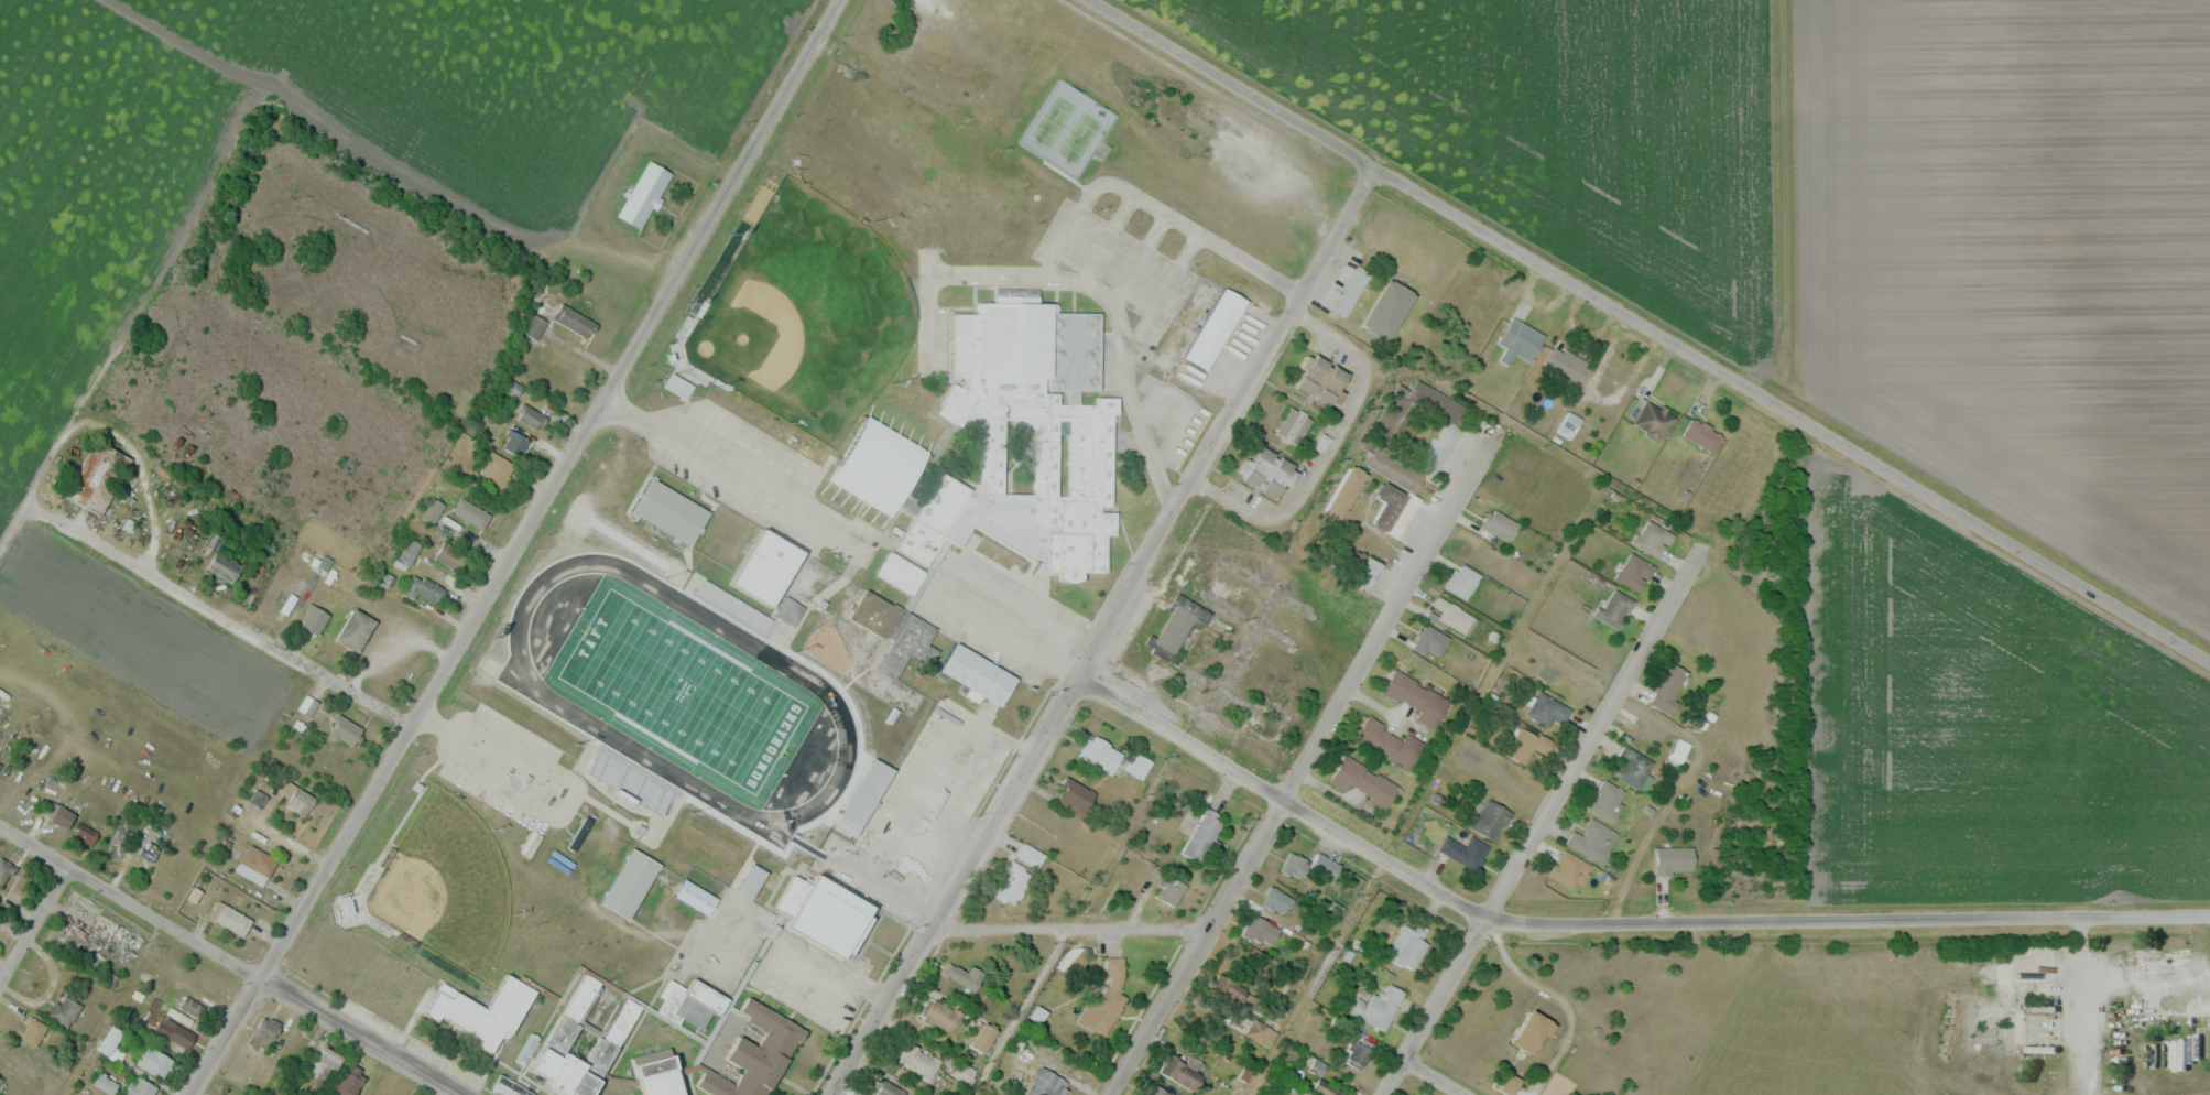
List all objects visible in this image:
park: (1067, 130)
building: (641, 198)
building: (1351, 291)
building: (1389, 308)
park: (806, 318)
building: (574, 319)
building: (534, 325)
road: (1648, 332)
building: (1213, 333)
building: (1520, 340)
building: (1564, 364)
building: (1322, 380)
building: (676, 390)
building: (530, 416)
building: (1039, 420)
building: (1653, 420)
road: (96, 423)
building: (1296, 426)
building: (1702, 435)
building: (1444, 438)
building: (515, 443)
building: (496, 469)
building: (1269, 471)
building: (97, 479)
building: (901, 487)
building: (1344, 491)
building: (1393, 509)
building: (470, 512)
building: (668, 516)
building: (1499, 524)
road: (841, 536)
building: (1652, 538)
road: (518, 547)
building: (409, 551)
building: (219, 564)
building: (763, 572)
building: (1634, 572)
building: (901, 573)
building: (1369, 573)
building: (1461, 581)
building: (1614, 608)
road: (220, 611)
building: (788, 611)
building: (1451, 616)
building: (314, 620)
building: (1178, 626)
building: (356, 630)
road: (1103, 630)
building: (1430, 640)
building: (977, 679)
building: (1669, 689)
park: (683, 692)
building: (1416, 697)
building: (917, 703)
track: (557, 705)
building: (1547, 709)
building: (345, 730)
building: (1387, 742)
building: (1527, 745)
building: (1099, 752)
building: (0, 763)
building: (1136, 763)
road: (1303, 767)
building: (1633, 769)
building: (1363, 781)
building: (1073, 795)
building: (1607, 800)
building: (298, 801)
building: (862, 804)
building: (58, 814)
building: (1490, 818)
road: (1542, 828)
building: (1071, 832)
building: (84, 834)
building: (1204, 834)
building: (1592, 841)
building: (120, 842)
building: (148, 850)
building: (1465, 850)
building: (715, 854)
building: (1674, 859)
building: (1294, 863)
building: (254, 865)
building: (1325, 866)
building: (1569, 869)
building: (4, 870)
building: (1020, 874)
building: (750, 886)
building: (628, 888)
park: (446, 889)
building: (1171, 889)
building: (1276, 899)
building: (694, 901)
road: (1610, 920)
building: (827, 921)
building: (232, 924)
road: (33, 925)
road: (1074, 926)
building: (1260, 930)
building: (122, 937)
building: (1408, 943)
road: (231, 960)
building: (601, 962)
building: (556, 975)
building: (2129, 978)
building: (1231, 993)
building: (1104, 998)
building: (190, 1005)
building: (1378, 1006)
building: (483, 1009)
building: (63, 1010)
building: (940, 1013)
building: (270, 1026)
building: (172, 1030)
building: (1532, 1030)
building: (32, 1031)
building: (585, 1036)
building: (983, 1036)
building: (110, 1039)
building: (1359, 1052)
building: (755, 1055)
building: (918, 1059)
building: (154, 1061)
building: (317, 1070)
building: (964, 1071)
building: (1180, 1071)
building: (1, 1078)
road: (1435, 1078)
building: (348, 1080)
building: (104, 1082)
building: (656, 1082)
building: (1510, 1082)
building: (1046, 1083)
building: (138, 1086)
building: (890, 1088)
building: (1157, 1091)
building: (1427, 1094)

